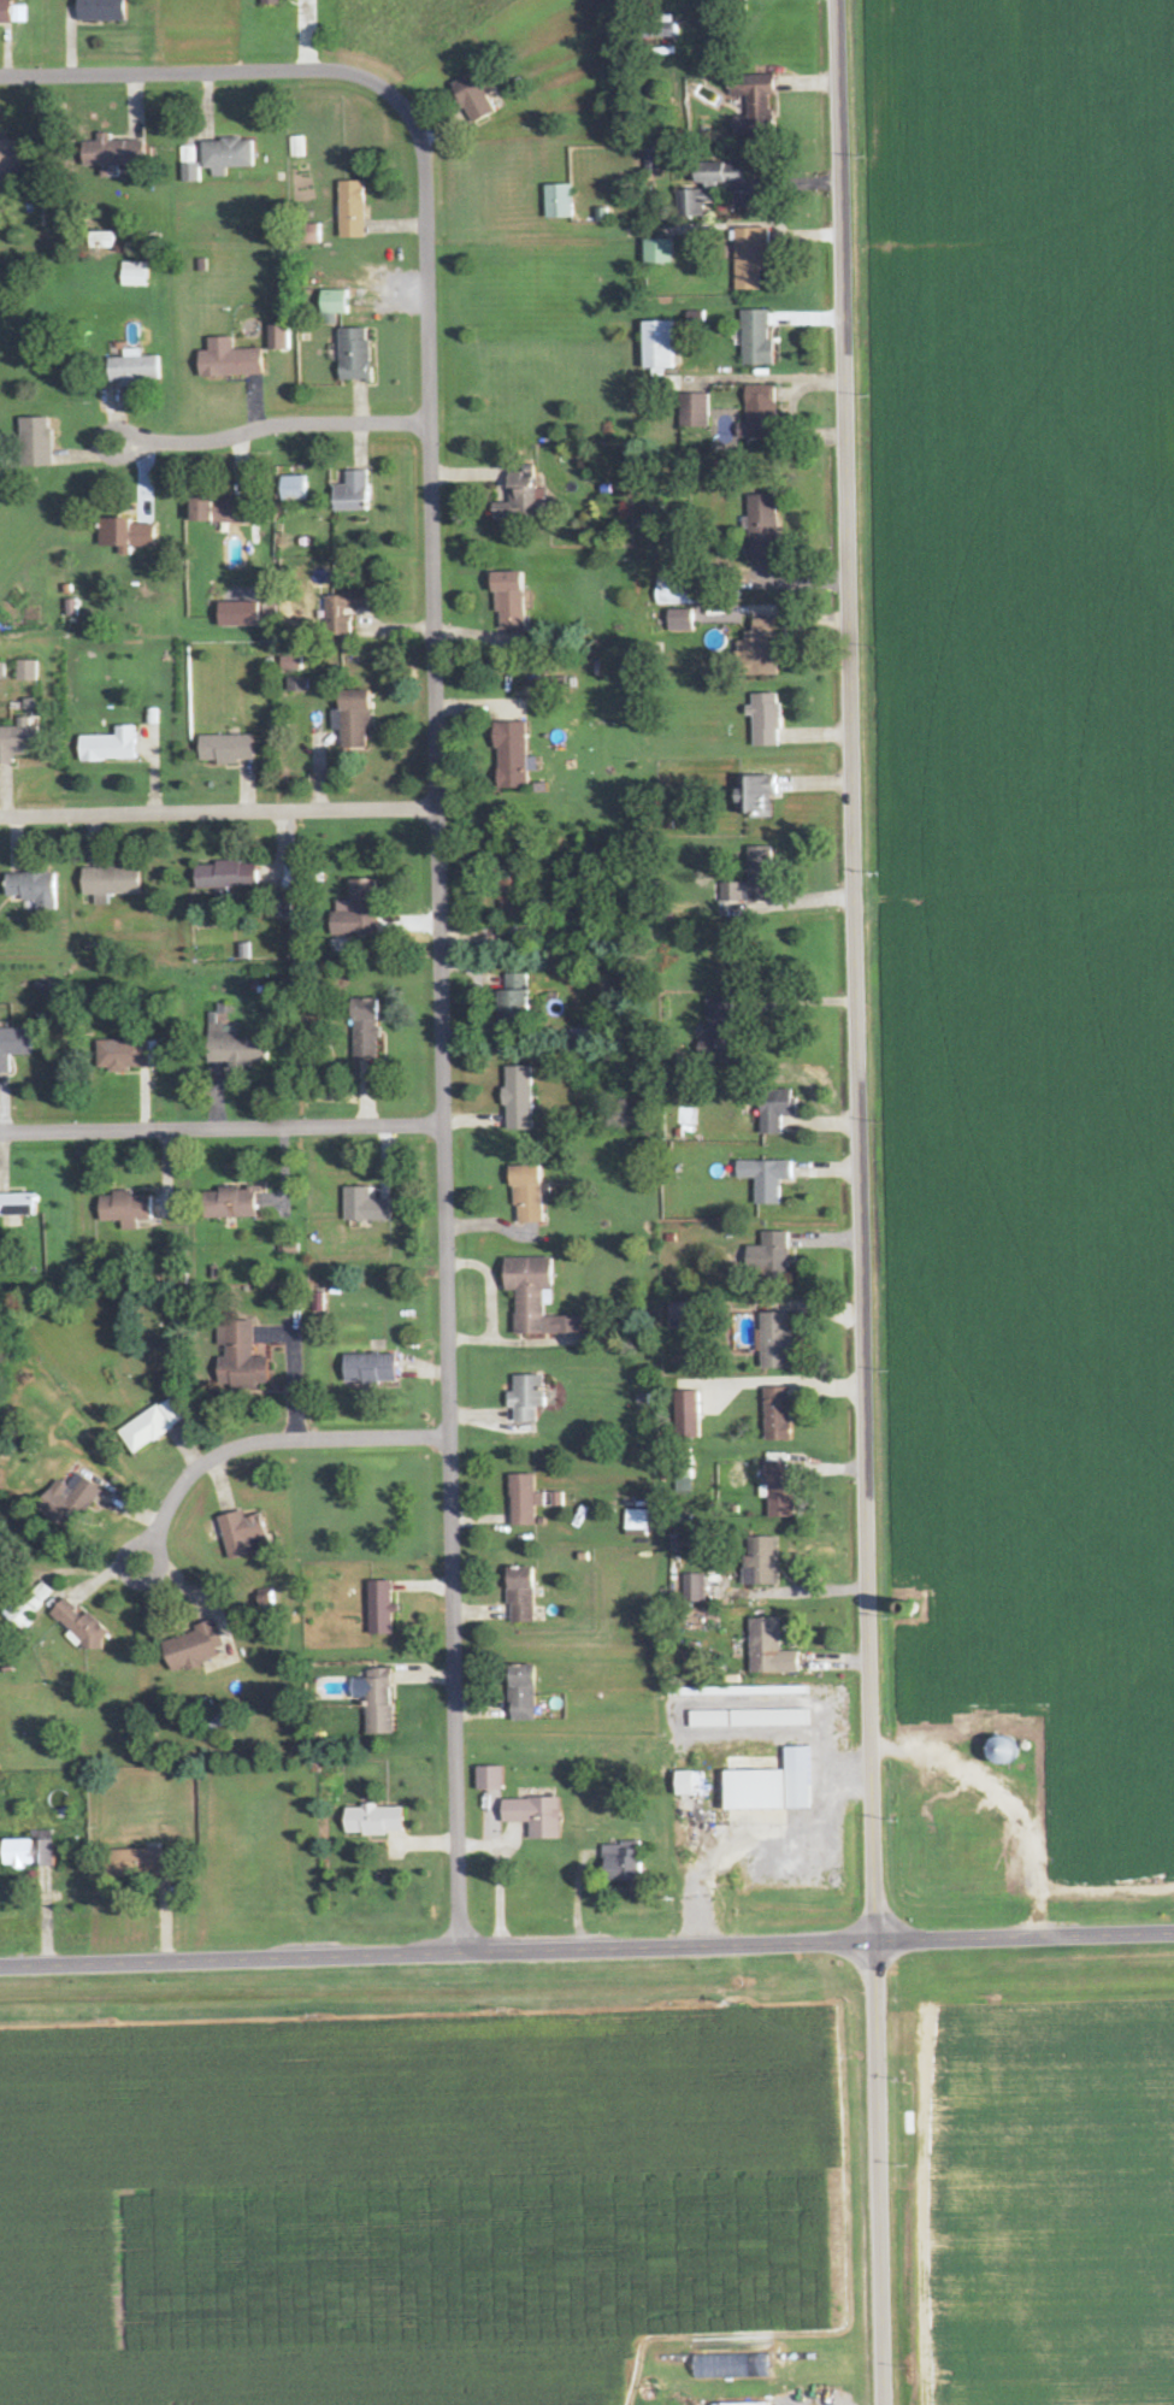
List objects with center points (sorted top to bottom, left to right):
building: (732, 0)
building: (269, 2)
building: (108, 11)
building: (12, 12)
building: (666, 30)
building: (473, 96)
building: (754, 105)
building: (297, 147)
building: (14, 158)
building: (706, 185)
building: (557, 202)
building: (350, 210)
road: (724, 225)
building: (309, 234)
building: (656, 252)
building: (749, 258)
building: (135, 273)
building: (332, 302)
building: (278, 336)
building: (756, 337)
building: (656, 343)
building: (354, 353)
building: (229, 359)
building: (134, 367)
building: (694, 409)
building: (760, 411)
road: (288, 420)
road: (112, 426)
building: (35, 441)
building: (293, 488)
building: (350, 493)
building: (520, 496)
building: (216, 508)
building: (761, 527)
building: (124, 534)
building: (508, 599)
building: (343, 609)
building: (680, 620)
building: (759, 648)
building: (290, 662)
building: (2, 670)
building: (26, 671)
building: (296, 684)
building: (352, 718)
building: (763, 719)
building: (17, 741)
building: (108, 745)
building: (225, 748)
building: (512, 755)
building: (753, 795)
road: (218, 807)
road: (437, 818)
building: (225, 876)
building: (750, 879)
building: (110, 880)
building: (33, 888)
building: (281, 904)
building: (355, 910)
building: (513, 998)
building: (715, 1024)
building: (364, 1027)
building: (230, 1044)
building: (12, 1045)
building: (122, 1055)
building: (517, 1098)
building: (774, 1109)
road: (222, 1124)
building: (765, 1178)
building: (525, 1193)
road: (856, 1202)
building: (229, 1203)
building: (16, 1204)
building: (364, 1206)
building: (123, 1208)
building: (769, 1254)
building: (533, 1297)
building: (678, 1310)
building: (774, 1340)
building: (237, 1357)
building: (367, 1368)
building: (525, 1397)
building: (777, 1414)
building: (685, 1415)
building: (149, 1425)
road: (281, 1438)
building: (682, 1481)
building: (778, 1485)
building: (67, 1499)
building: (523, 1499)
building: (635, 1521)
building: (208, 1532)
building: (238, 1533)
building: (760, 1561)
road: (128, 1576)
building: (694, 1588)
building: (520, 1595)
building: (36, 1597)
building: (379, 1608)
building: (78, 1626)
building: (190, 1647)
building: (768, 1649)
building: (520, 1693)
building: (378, 1702)
building: (767, 1717)
building: (708, 1719)
building: (998, 1751)
building: (795, 1778)
building: (489, 1779)
building: (686, 1784)
building: (750, 1791)
road: (735, 1808)
building: (533, 1816)
building: (371, 1820)
building: (28, 1851)
building: (134, 1862)
building: (620, 1862)
road: (1062, 1933)
road: (474, 1947)
building: (749, 2404)

